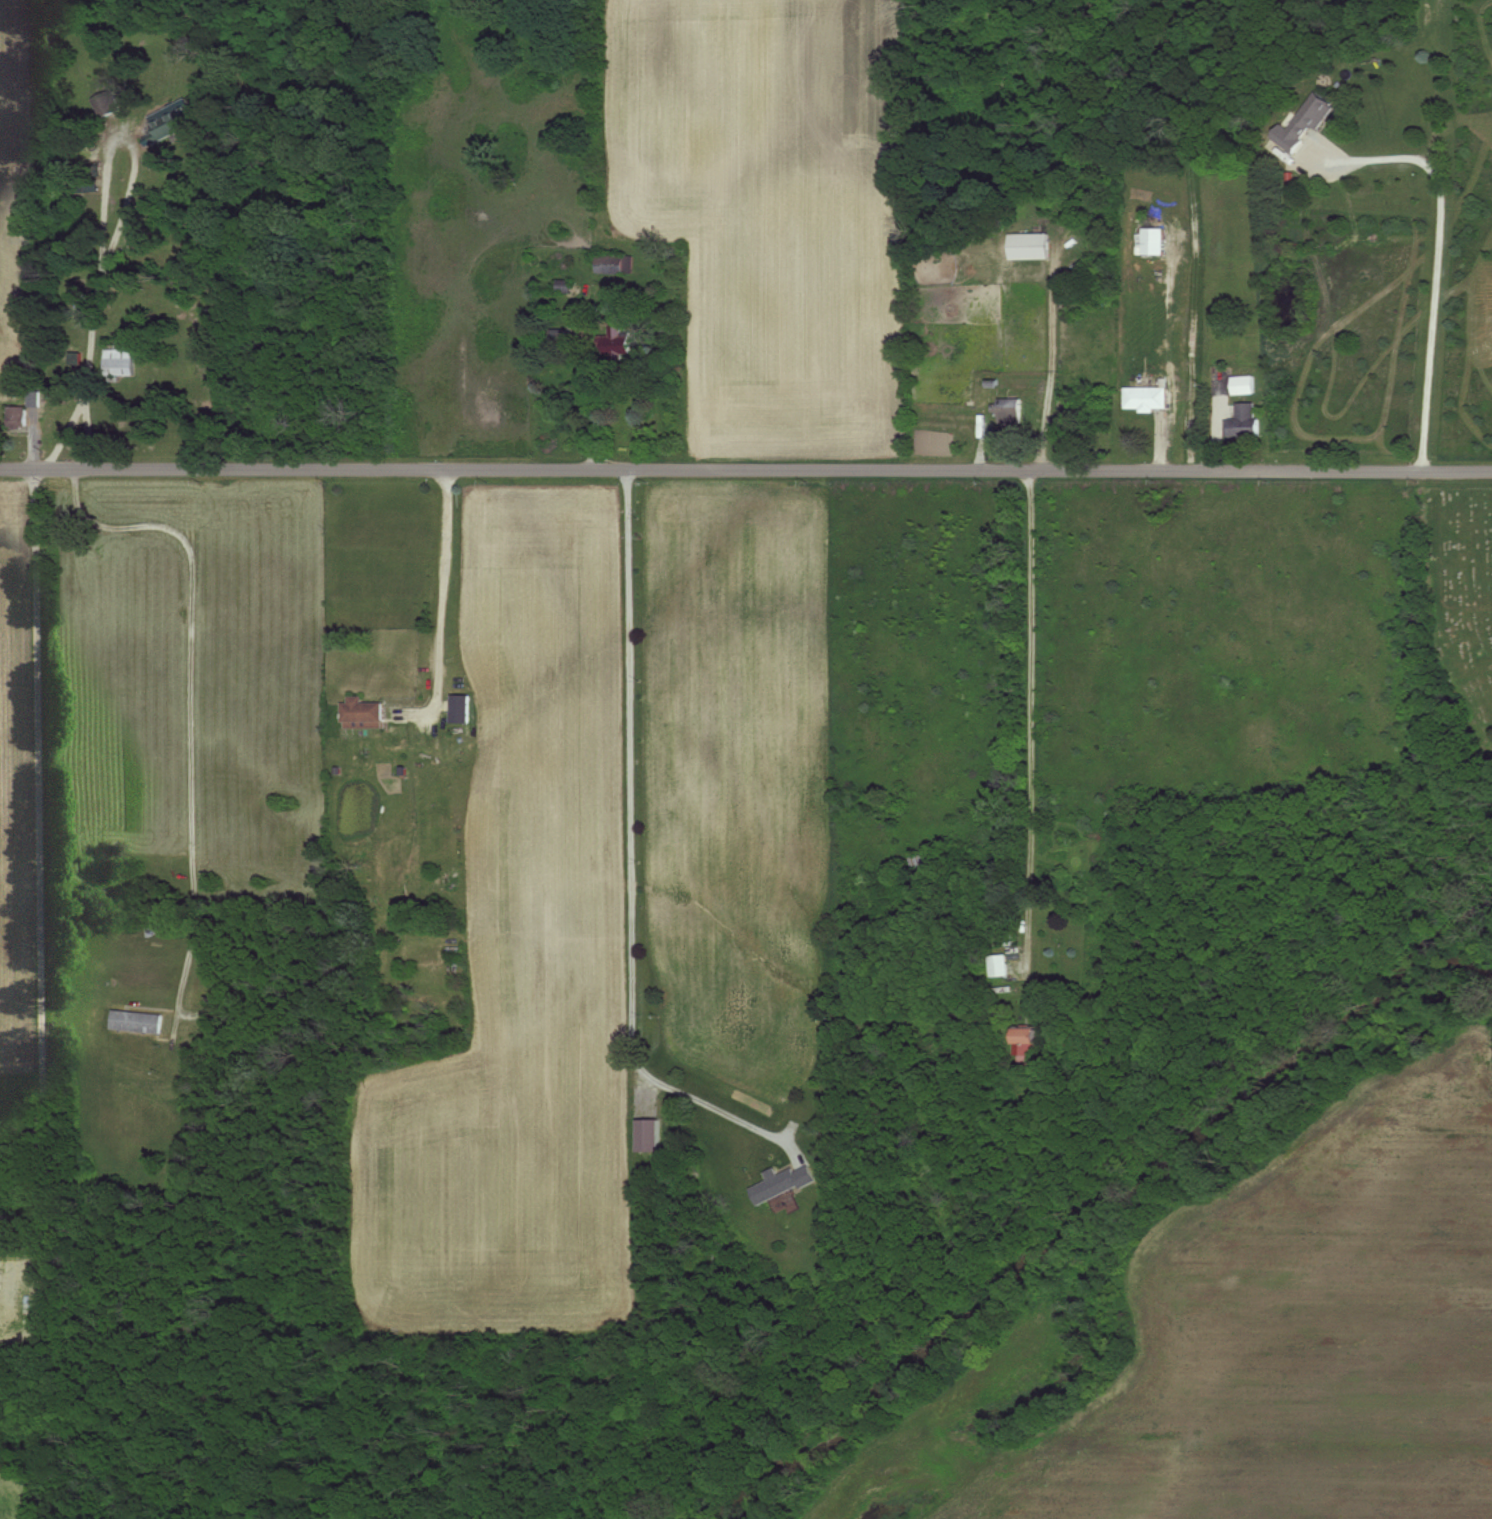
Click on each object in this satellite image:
building: (108, 103)
building: (1310, 115)
building: (171, 121)
road: (113, 237)
building: (1028, 247)
road: (1435, 260)
building: (614, 264)
building: (564, 286)
building: (617, 340)
building: (118, 363)
road: (1047, 369)
building: (1242, 385)
building: (1144, 398)
building: (1008, 410)
building: (15, 417)
building: (1243, 421)
road: (87, 437)
road: (745, 473)
road: (441, 601)
road: (190, 706)
building: (460, 709)
building: (364, 713)
road: (1032, 715)
road: (36, 799)
road: (631, 860)
building: (919, 865)
building: (1001, 965)
building: (1062, 1014)
building: (137, 1021)
building: (1030, 1045)
road: (19, 1127)
building: (650, 1135)
road: (24, 1146)
building: (785, 1183)

